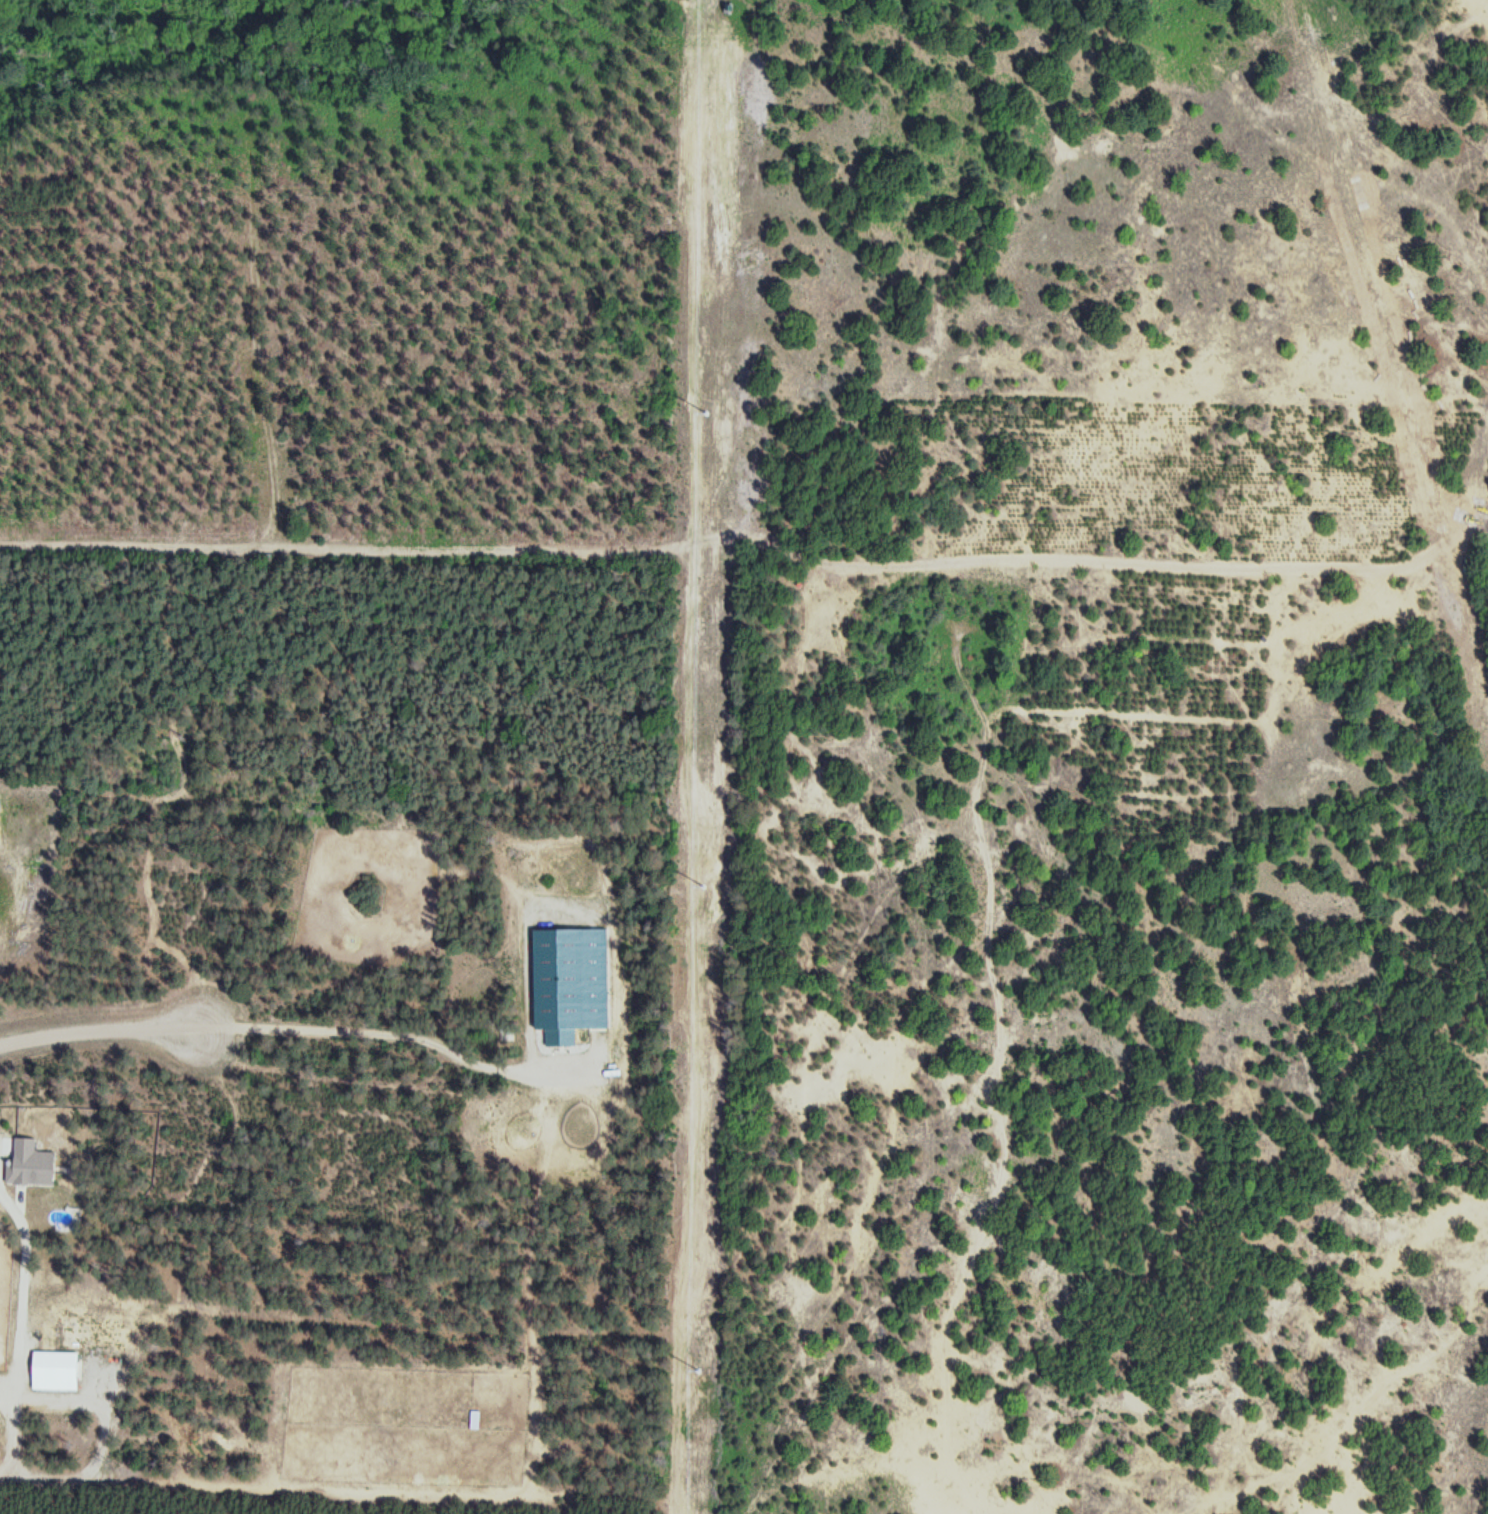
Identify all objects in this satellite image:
road: (103, 1028)

